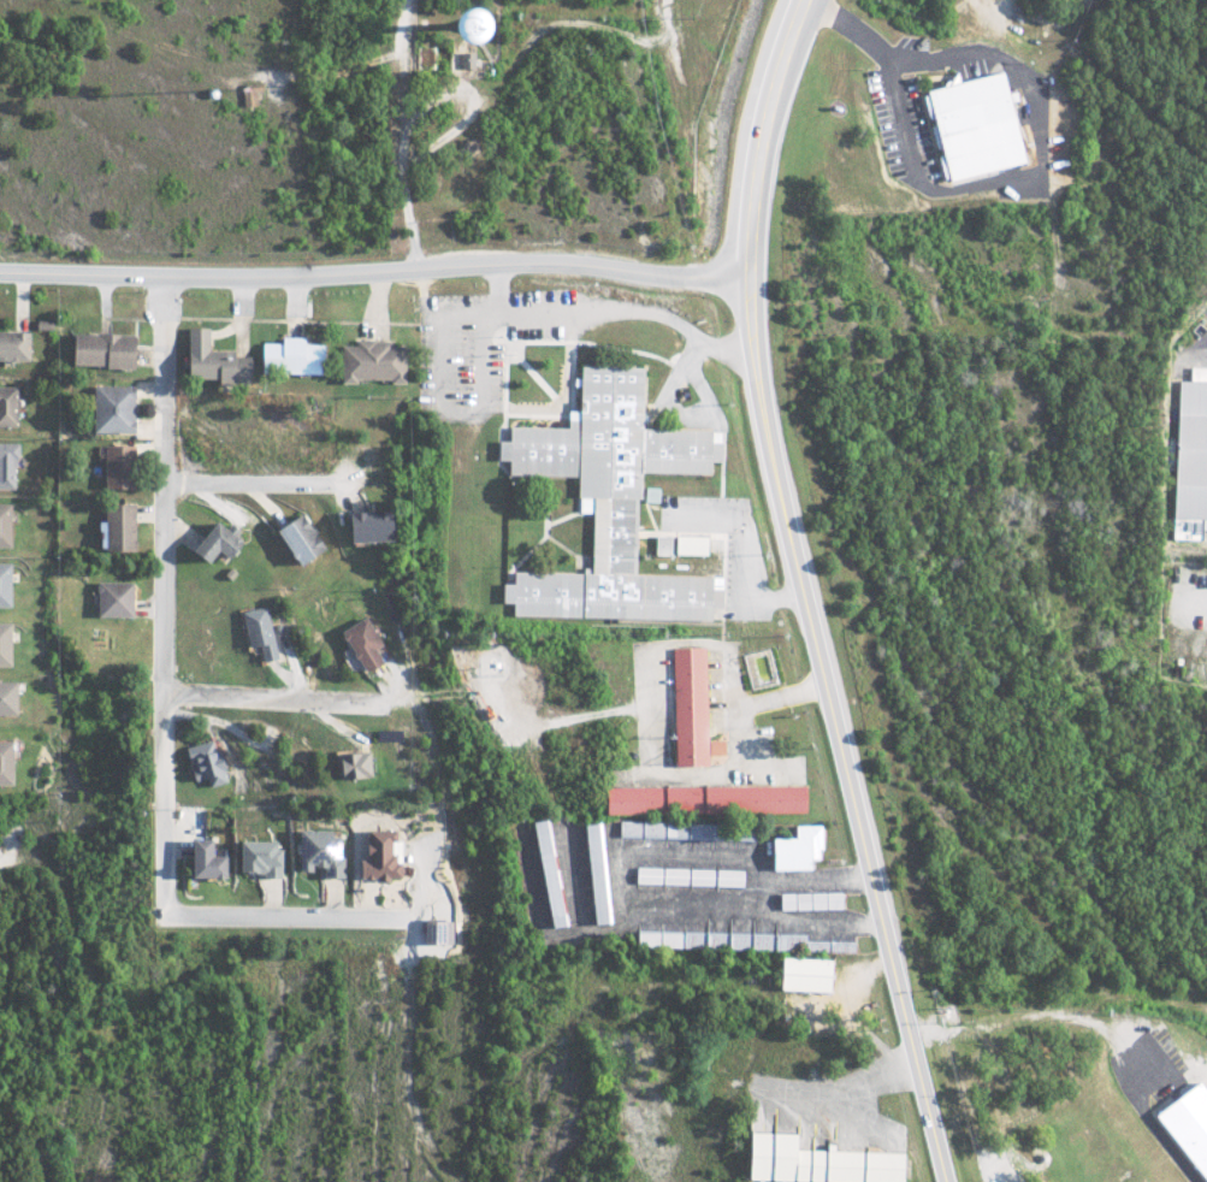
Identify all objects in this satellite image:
water tower: (468, 28)
building: (427, 31)
building: (971, 128)
road: (400, 136)
road: (987, 184)
road: (378, 273)
road: (611, 312)
building: (12, 347)
building: (97, 351)
building: (285, 357)
building: (209, 362)
building: (369, 362)
road: (442, 396)
building: (110, 409)
building: (6, 465)
building: (116, 467)
road: (254, 483)
building: (649, 494)
building: (605, 503)
building: (4, 525)
building: (365, 526)
building: (117, 527)
building: (292, 537)
building: (659, 543)
building: (688, 544)
road: (747, 548)
building: (4, 584)
road: (803, 592)
building: (111, 598)
building: (258, 631)
building: (360, 643)
building: (4, 644)
road: (780, 695)
building: (7, 698)
road: (285, 701)
building: (688, 708)
road: (164, 716)
building: (4, 762)
building: (202, 763)
building: (350, 764)
building: (703, 799)
road: (450, 812)
building: (794, 849)
building: (318, 852)
building: (375, 856)
building: (253, 857)
building: (199, 859)
building: (549, 873)
building: (594, 873)
building: (686, 876)
building: (807, 900)
road: (753, 904)
building: (803, 974)
road: (869, 1088)
park: (1078, 1091)
building: (1190, 1123)
building: (1045, 1152)
parking lot: (1001, 1158)
building: (813, 1162)

